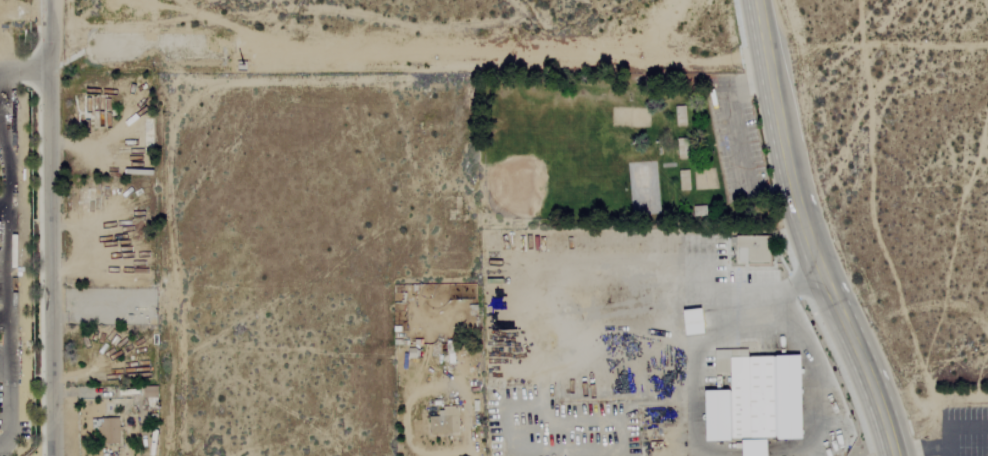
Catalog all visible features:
road: (618, 66)
road: (23, 70)
building: (95, 106)
road: (734, 142)
park: (619, 149)
building: (91, 200)
road: (3, 213)
road: (50, 228)
road: (806, 234)
building: (755, 248)
road: (9, 297)
road: (757, 314)
building: (697, 321)
road: (634, 345)
road: (536, 366)
road: (414, 395)
building: (760, 402)
building: (446, 421)
road: (957, 425)
building: (110, 430)
road: (924, 446)
road: (472, 452)

